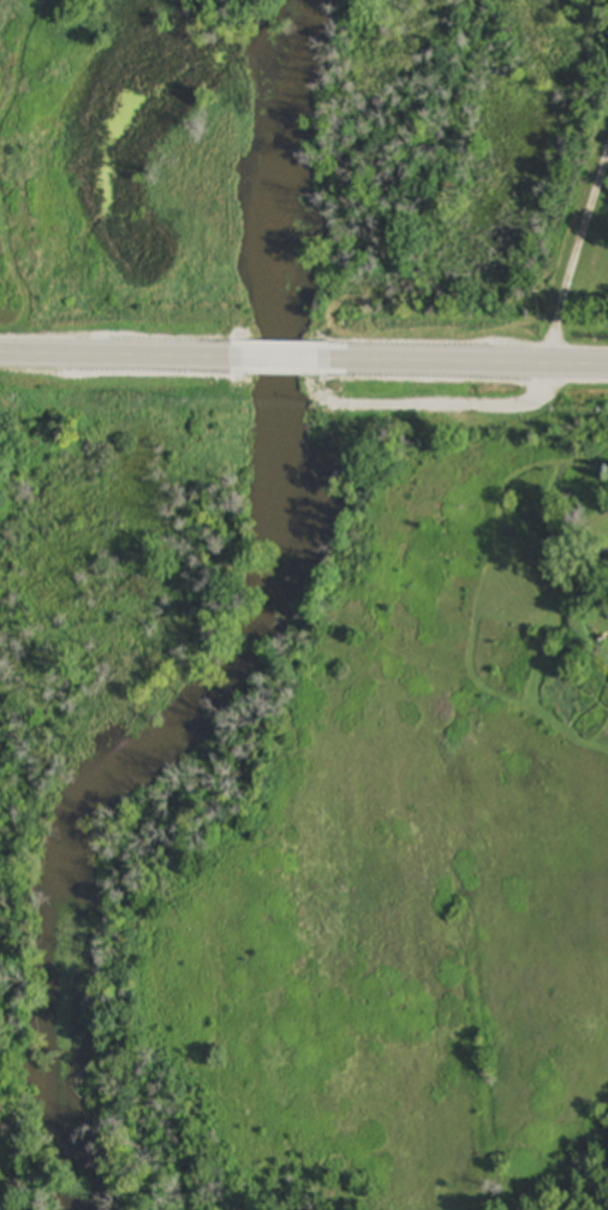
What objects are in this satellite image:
road: (574, 250)
road: (303, 361)
river: (239, 640)
building: (7, 1209)

